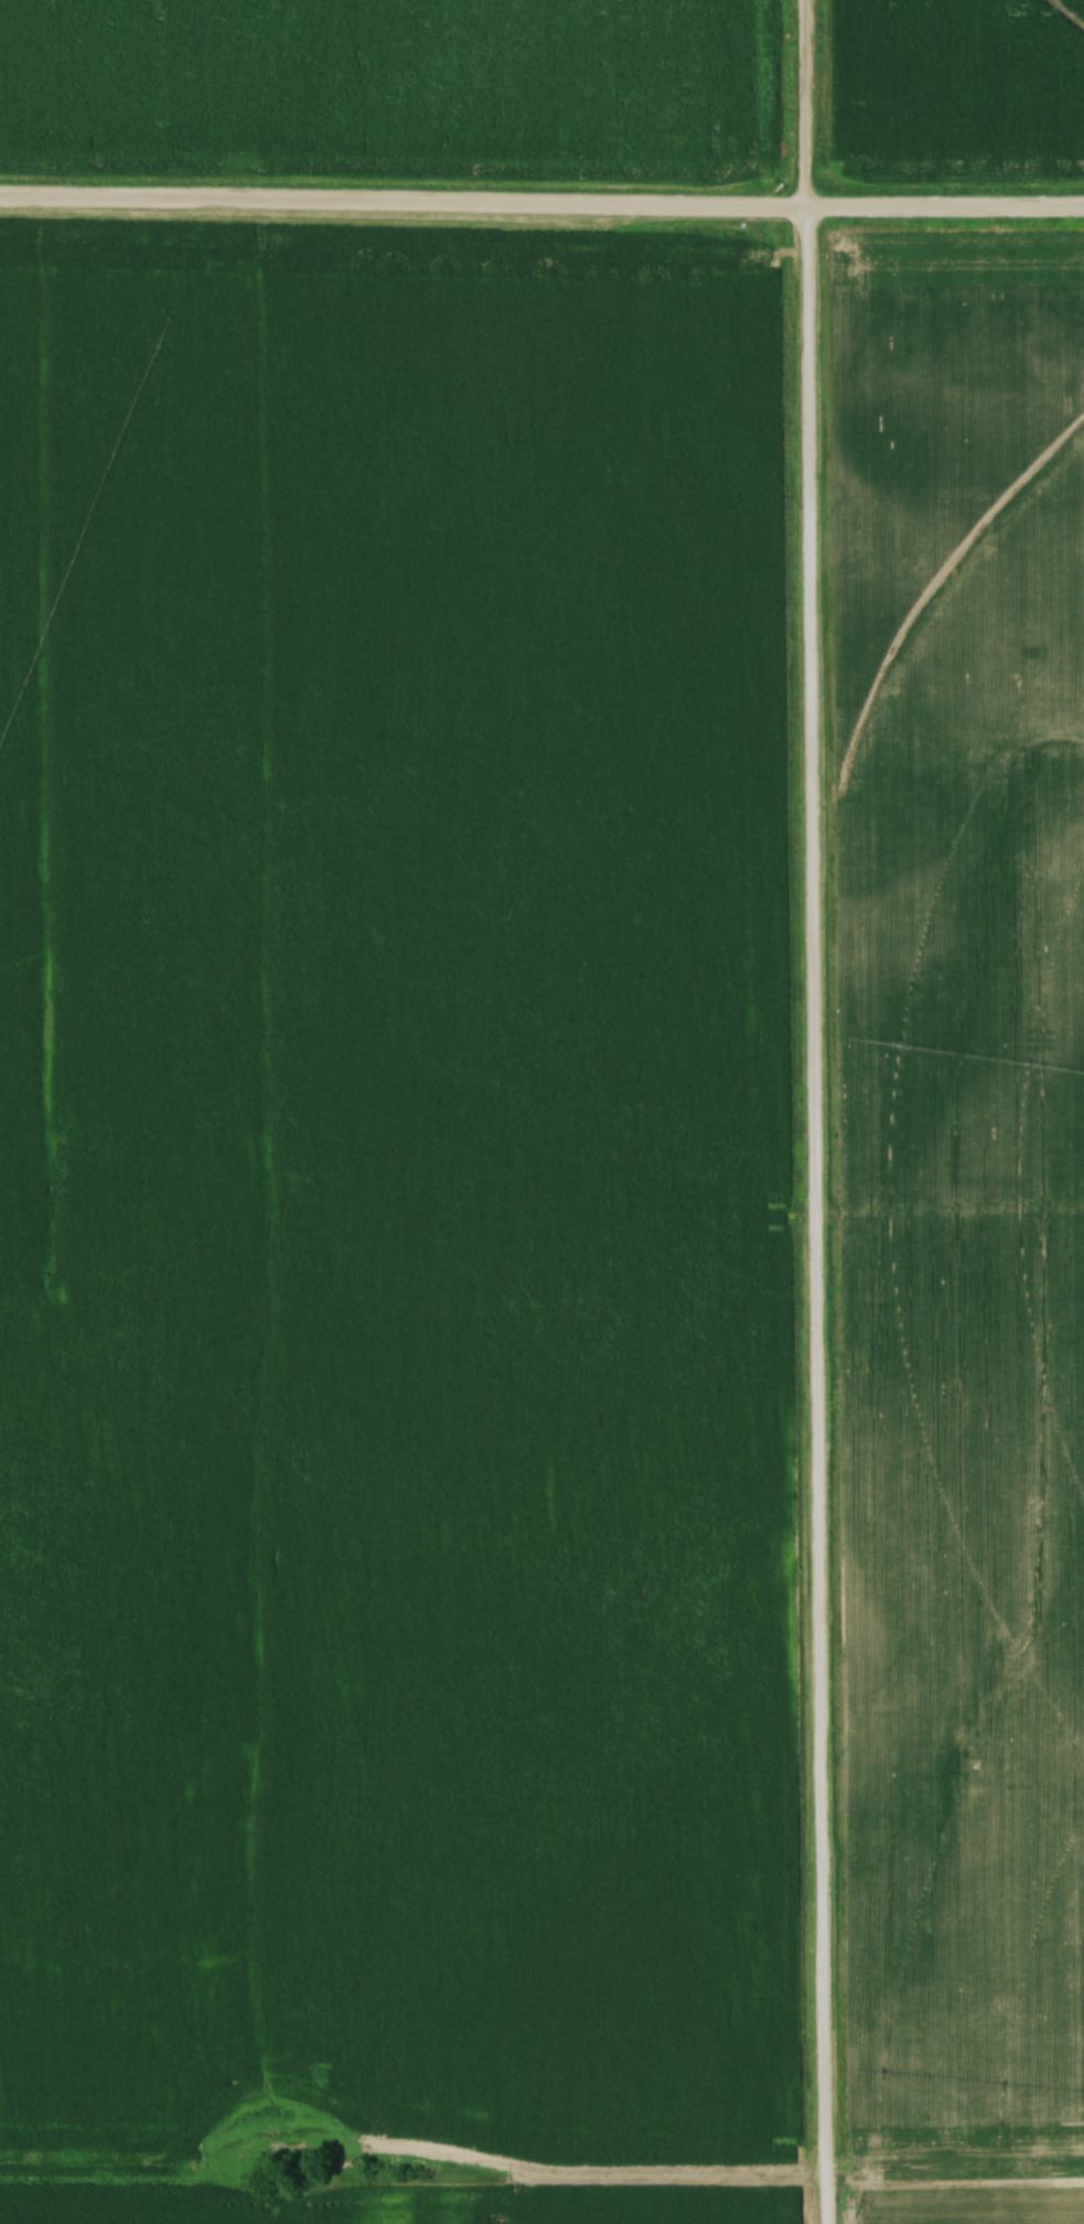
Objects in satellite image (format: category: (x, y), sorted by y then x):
road: (541, 204)
road: (807, 1111)
road: (951, 2166)

